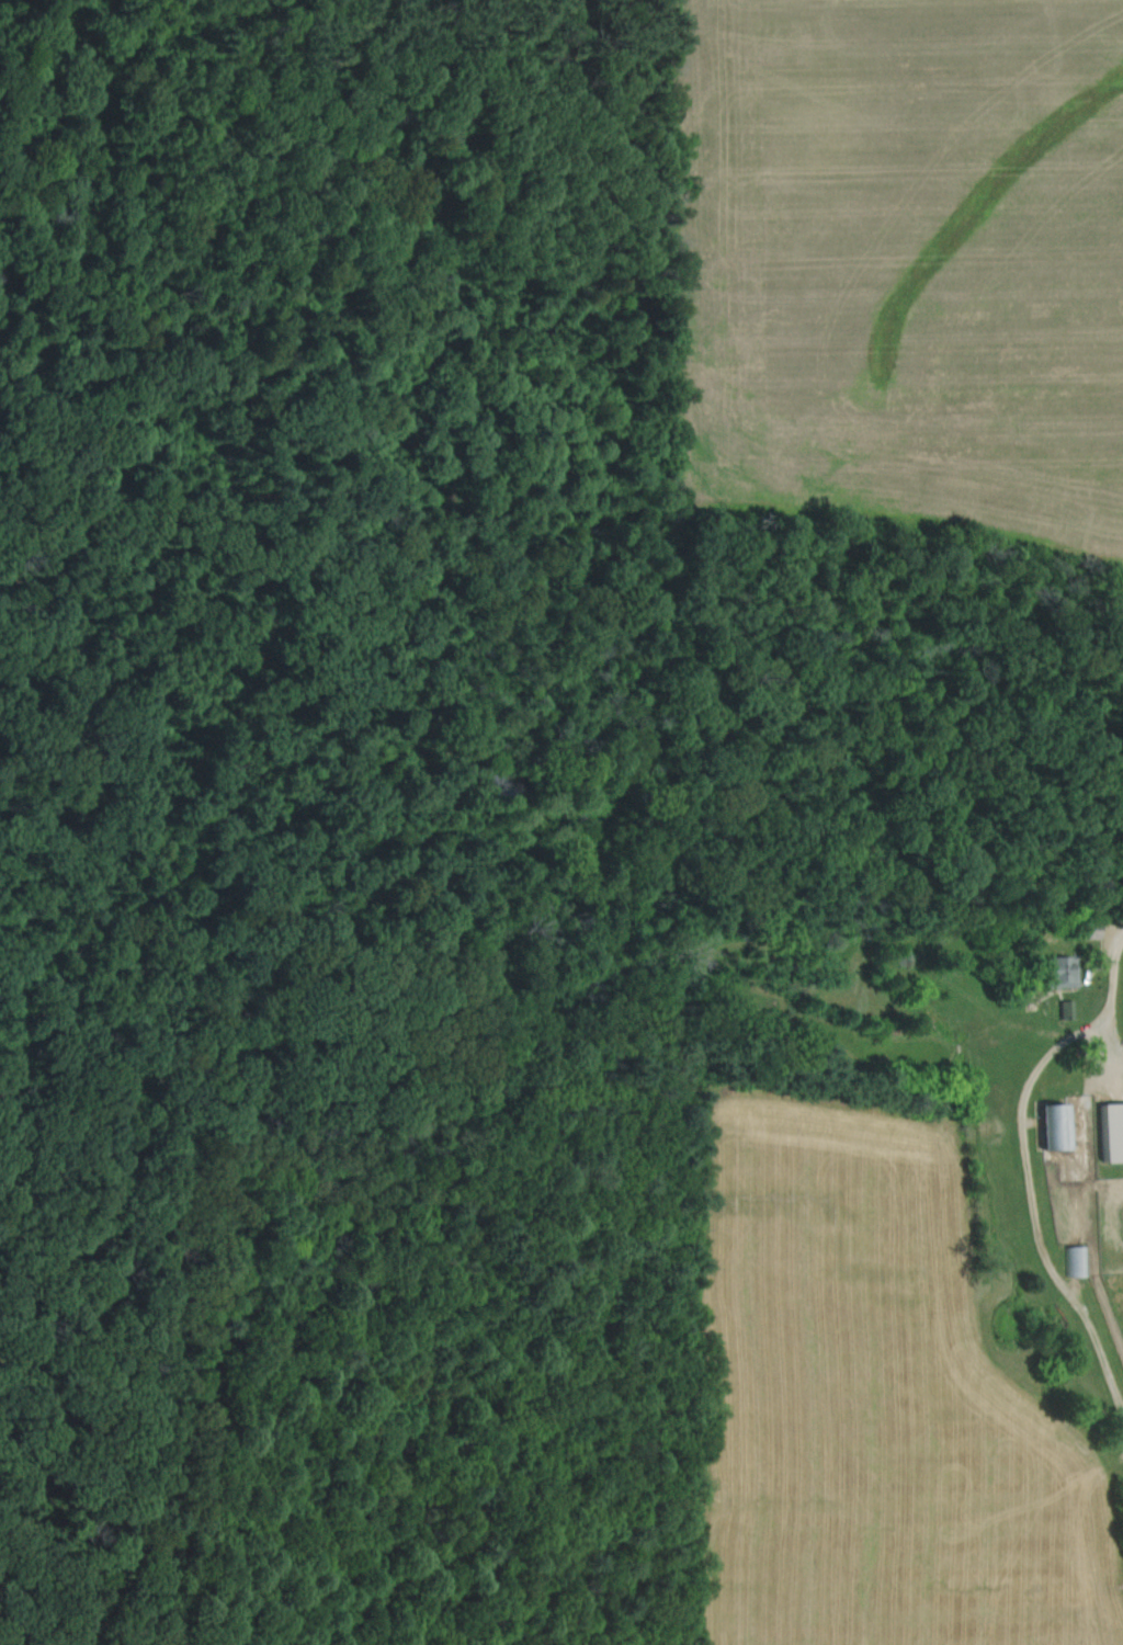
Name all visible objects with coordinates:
building: (1063, 973)
road: (1112, 976)
building: (1050, 1127)
building: (1109, 1133)
building: (1076, 1262)

